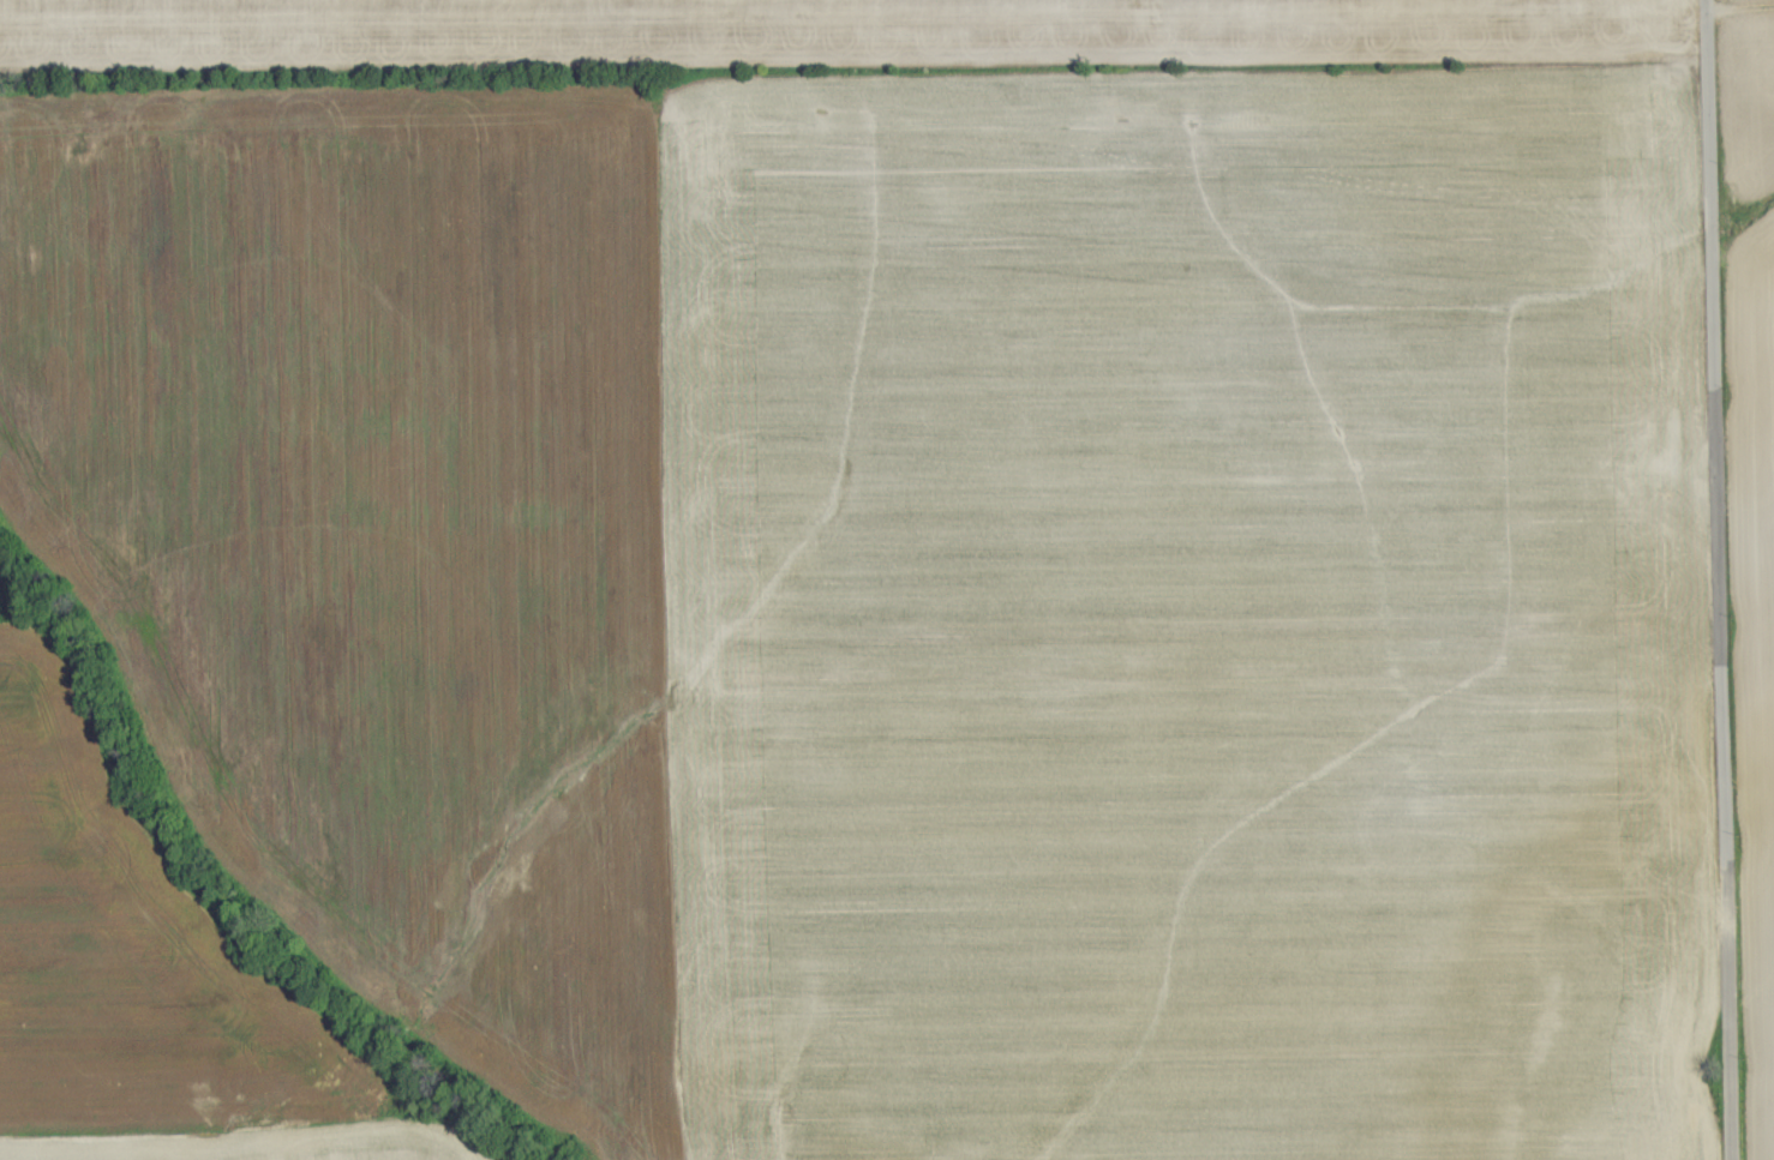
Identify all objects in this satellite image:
road: (1719, 579)

